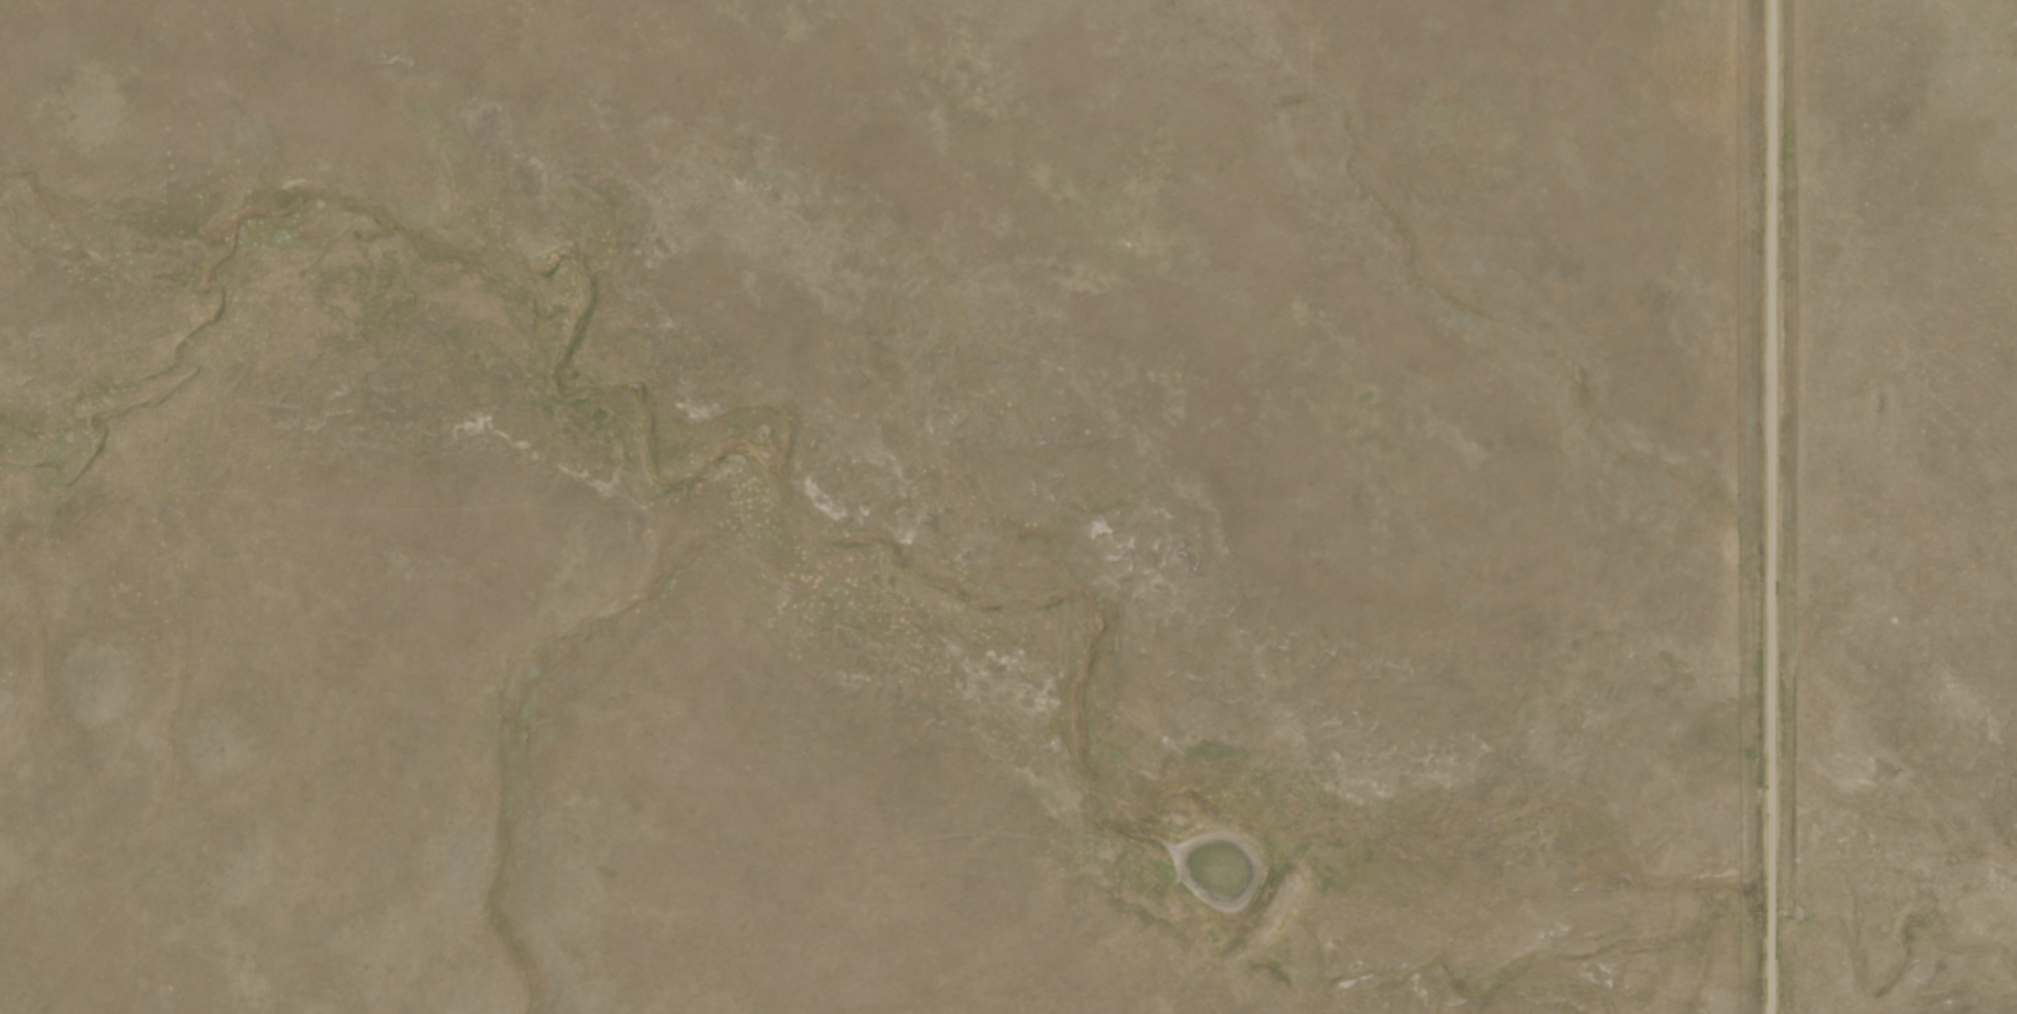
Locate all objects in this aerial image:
road: (1765, 507)

